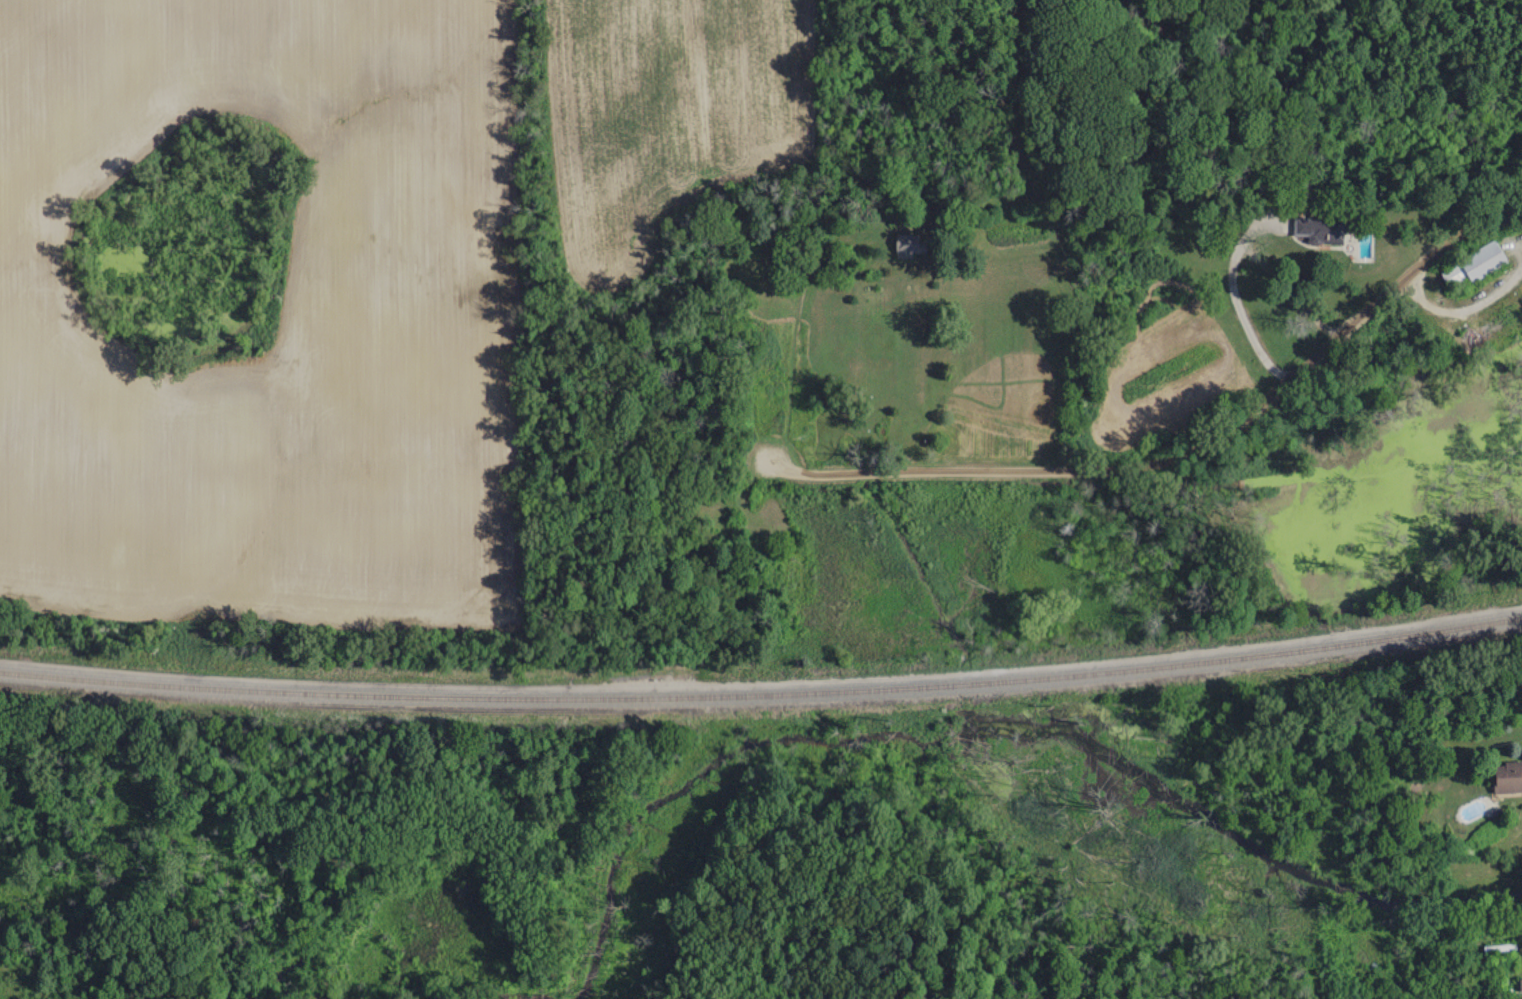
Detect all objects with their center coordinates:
building: (1317, 228)
road: (1250, 237)
building: (909, 244)
road: (1234, 257)
building: (1473, 264)
road: (1179, 454)
railway: (762, 692)
building: (1506, 777)
river: (162, 836)
river: (1010, 876)

